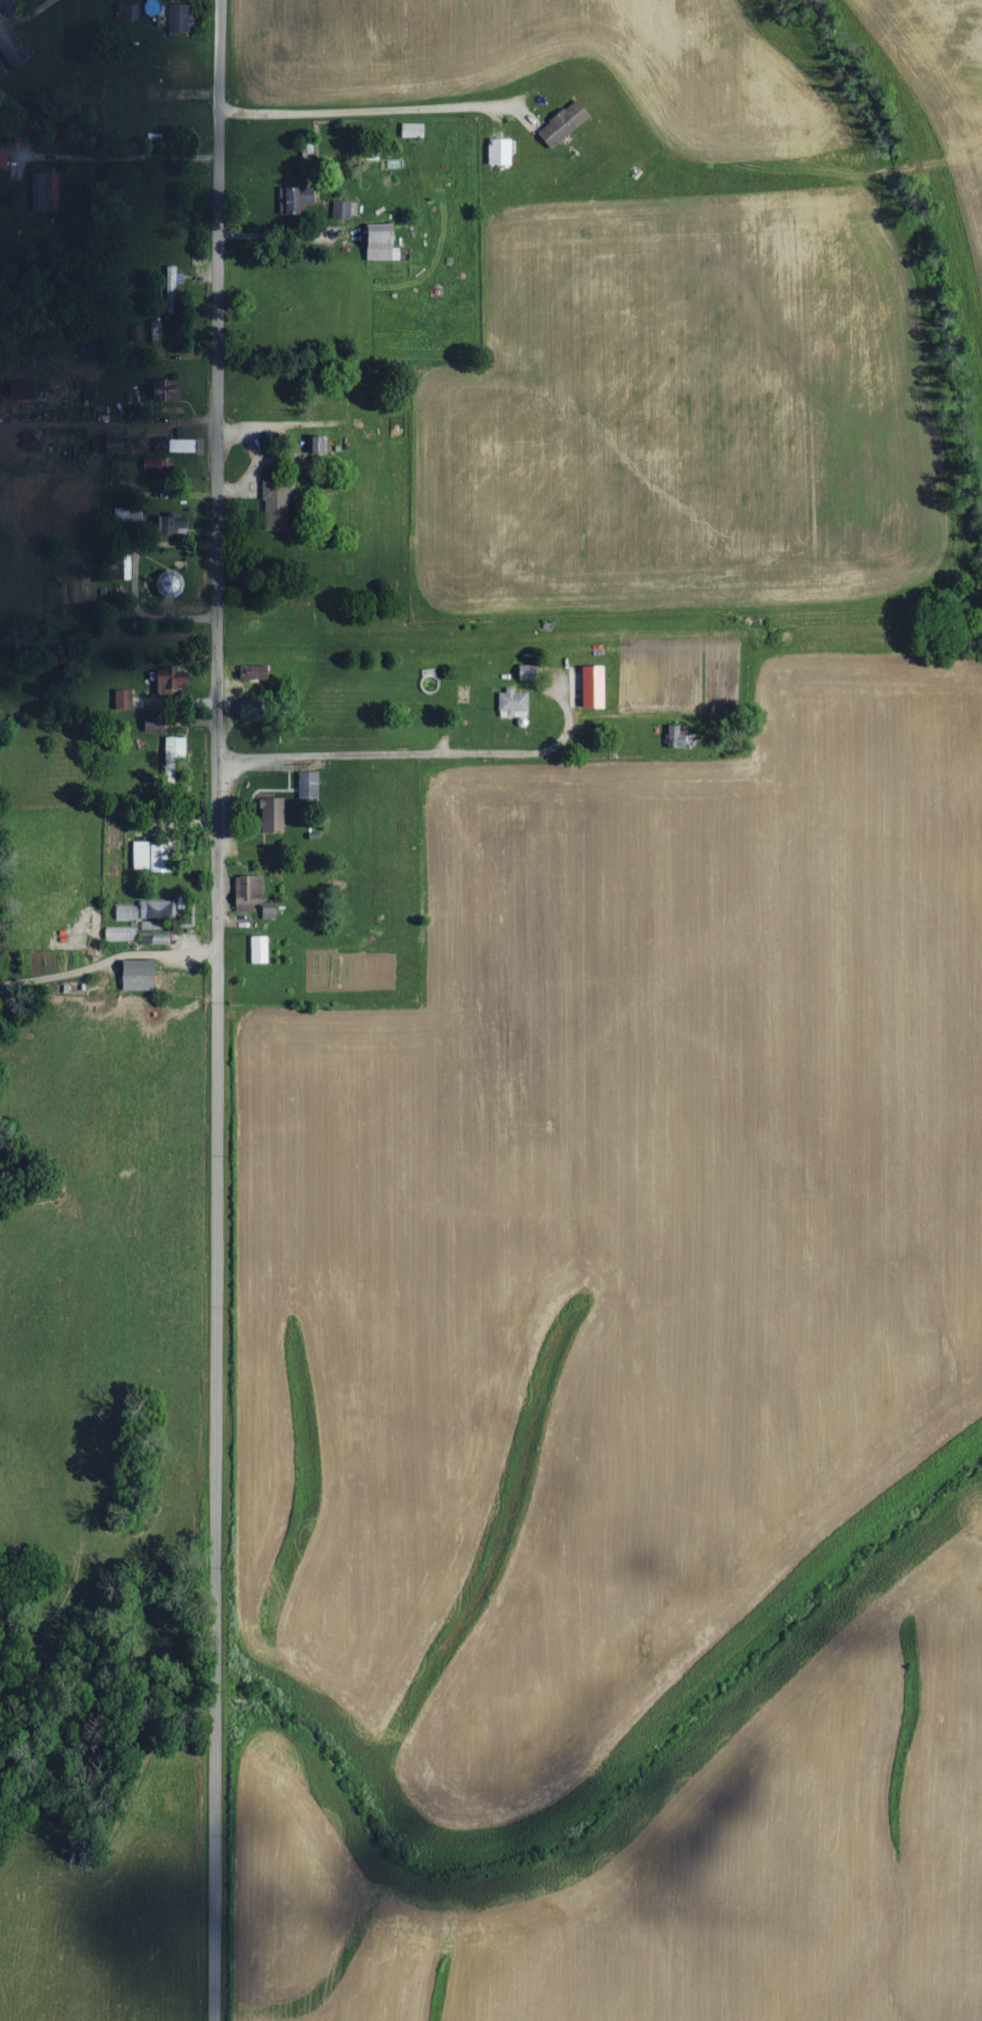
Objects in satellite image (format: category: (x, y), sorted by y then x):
building: (130, 11)
building: (180, 17)
building: (12, 45)
building: (566, 123)
building: (413, 130)
building: (502, 151)
building: (4, 156)
building: (46, 190)
building: (298, 199)
building: (345, 209)
building: (384, 242)
building: (173, 286)
building: (23, 390)
building: (166, 390)
building: (31, 441)
building: (319, 444)
building: (177, 445)
building: (156, 464)
building: (278, 504)
building: (172, 523)
building: (172, 584)
building: (596, 687)
building: (124, 699)
building: (515, 703)
building: (251, 710)
building: (155, 722)
building: (681, 737)
road: (410, 752)
building: (174, 754)
building: (310, 785)
building: (274, 815)
building: (153, 856)
building: (249, 892)
building: (158, 908)
building: (127, 912)
building: (150, 924)
building: (121, 933)
building: (260, 950)
building: (140, 975)
road: (212, 1010)

